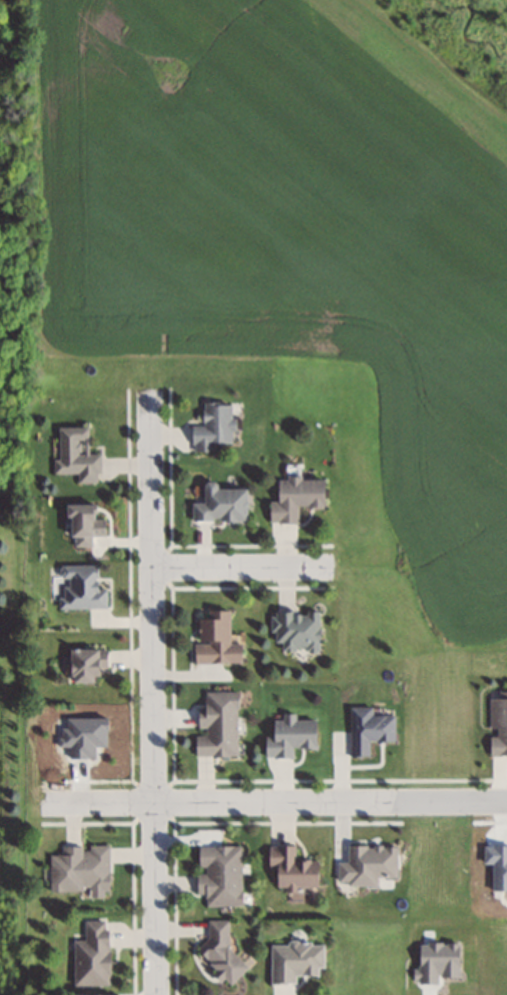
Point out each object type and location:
crop: (267, 107)
building: (211, 427)
building: (77, 455)
building: (294, 499)
building: (218, 503)
building: (81, 523)
road: (245, 568)
building: (76, 587)
building: (294, 630)
building: (214, 638)
building: (83, 663)
road: (154, 692)
building: (498, 724)
building: (216, 725)
building: (366, 728)
building: (288, 736)
road: (274, 802)
building: (364, 864)
building: (289, 868)
building: (78, 870)
building: (217, 874)
building: (219, 953)
building: (90, 955)
building: (293, 961)

